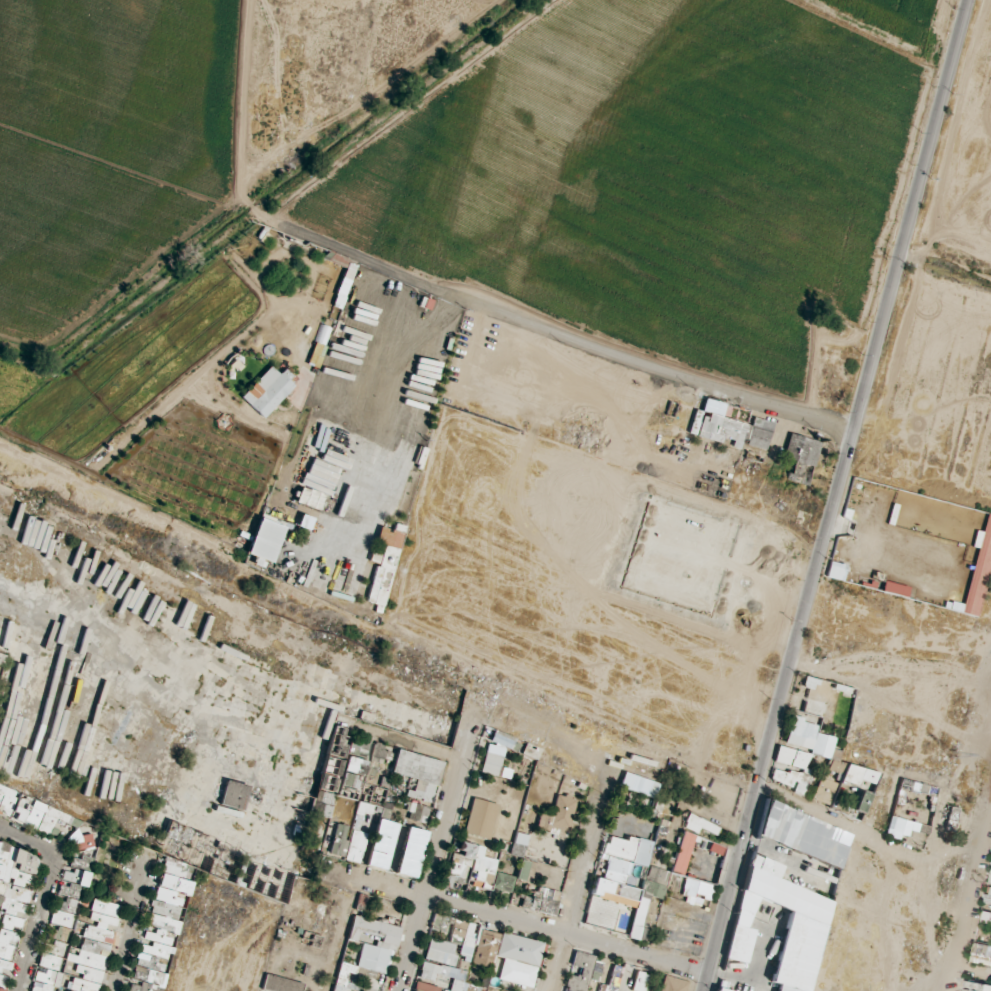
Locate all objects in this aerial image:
crop: (100, 150)
crop: (658, 168)
crop: (133, 370)
road: (835, 495)

